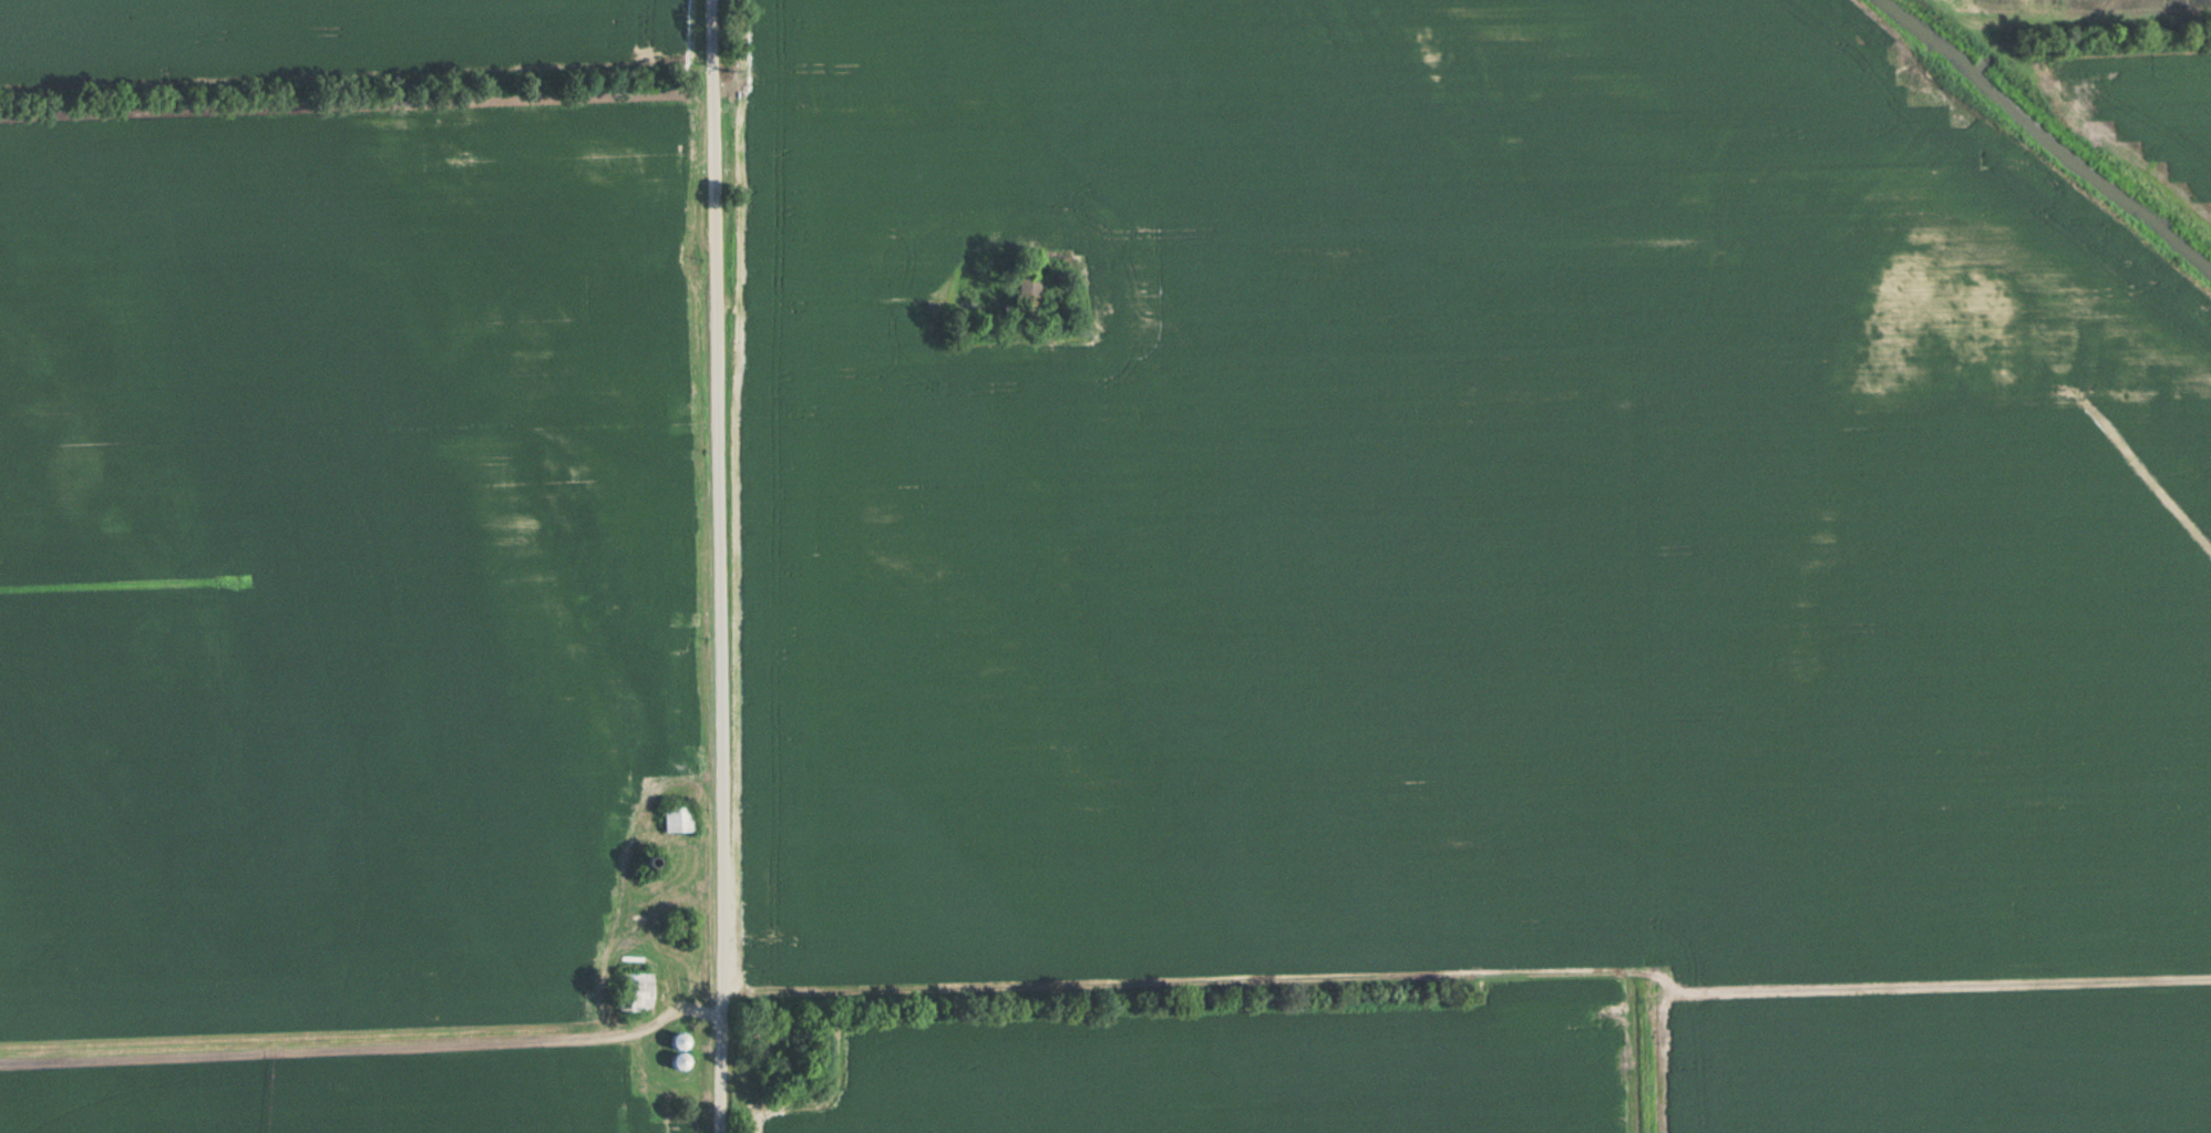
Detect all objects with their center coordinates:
road: (719, 566)
building: (676, 820)
road: (698, 927)
road: (380, 1026)

